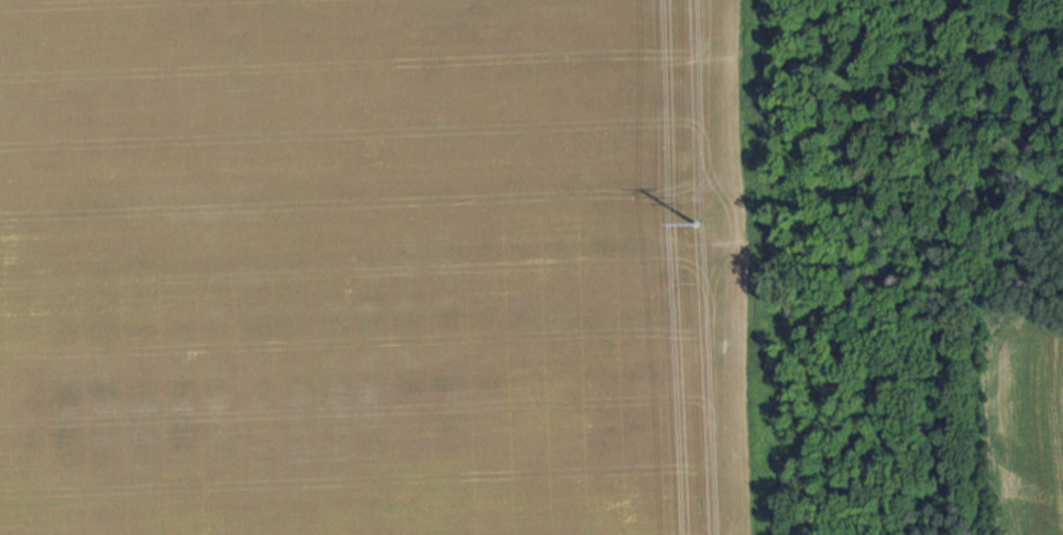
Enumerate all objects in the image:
power tower: (694, 227)

